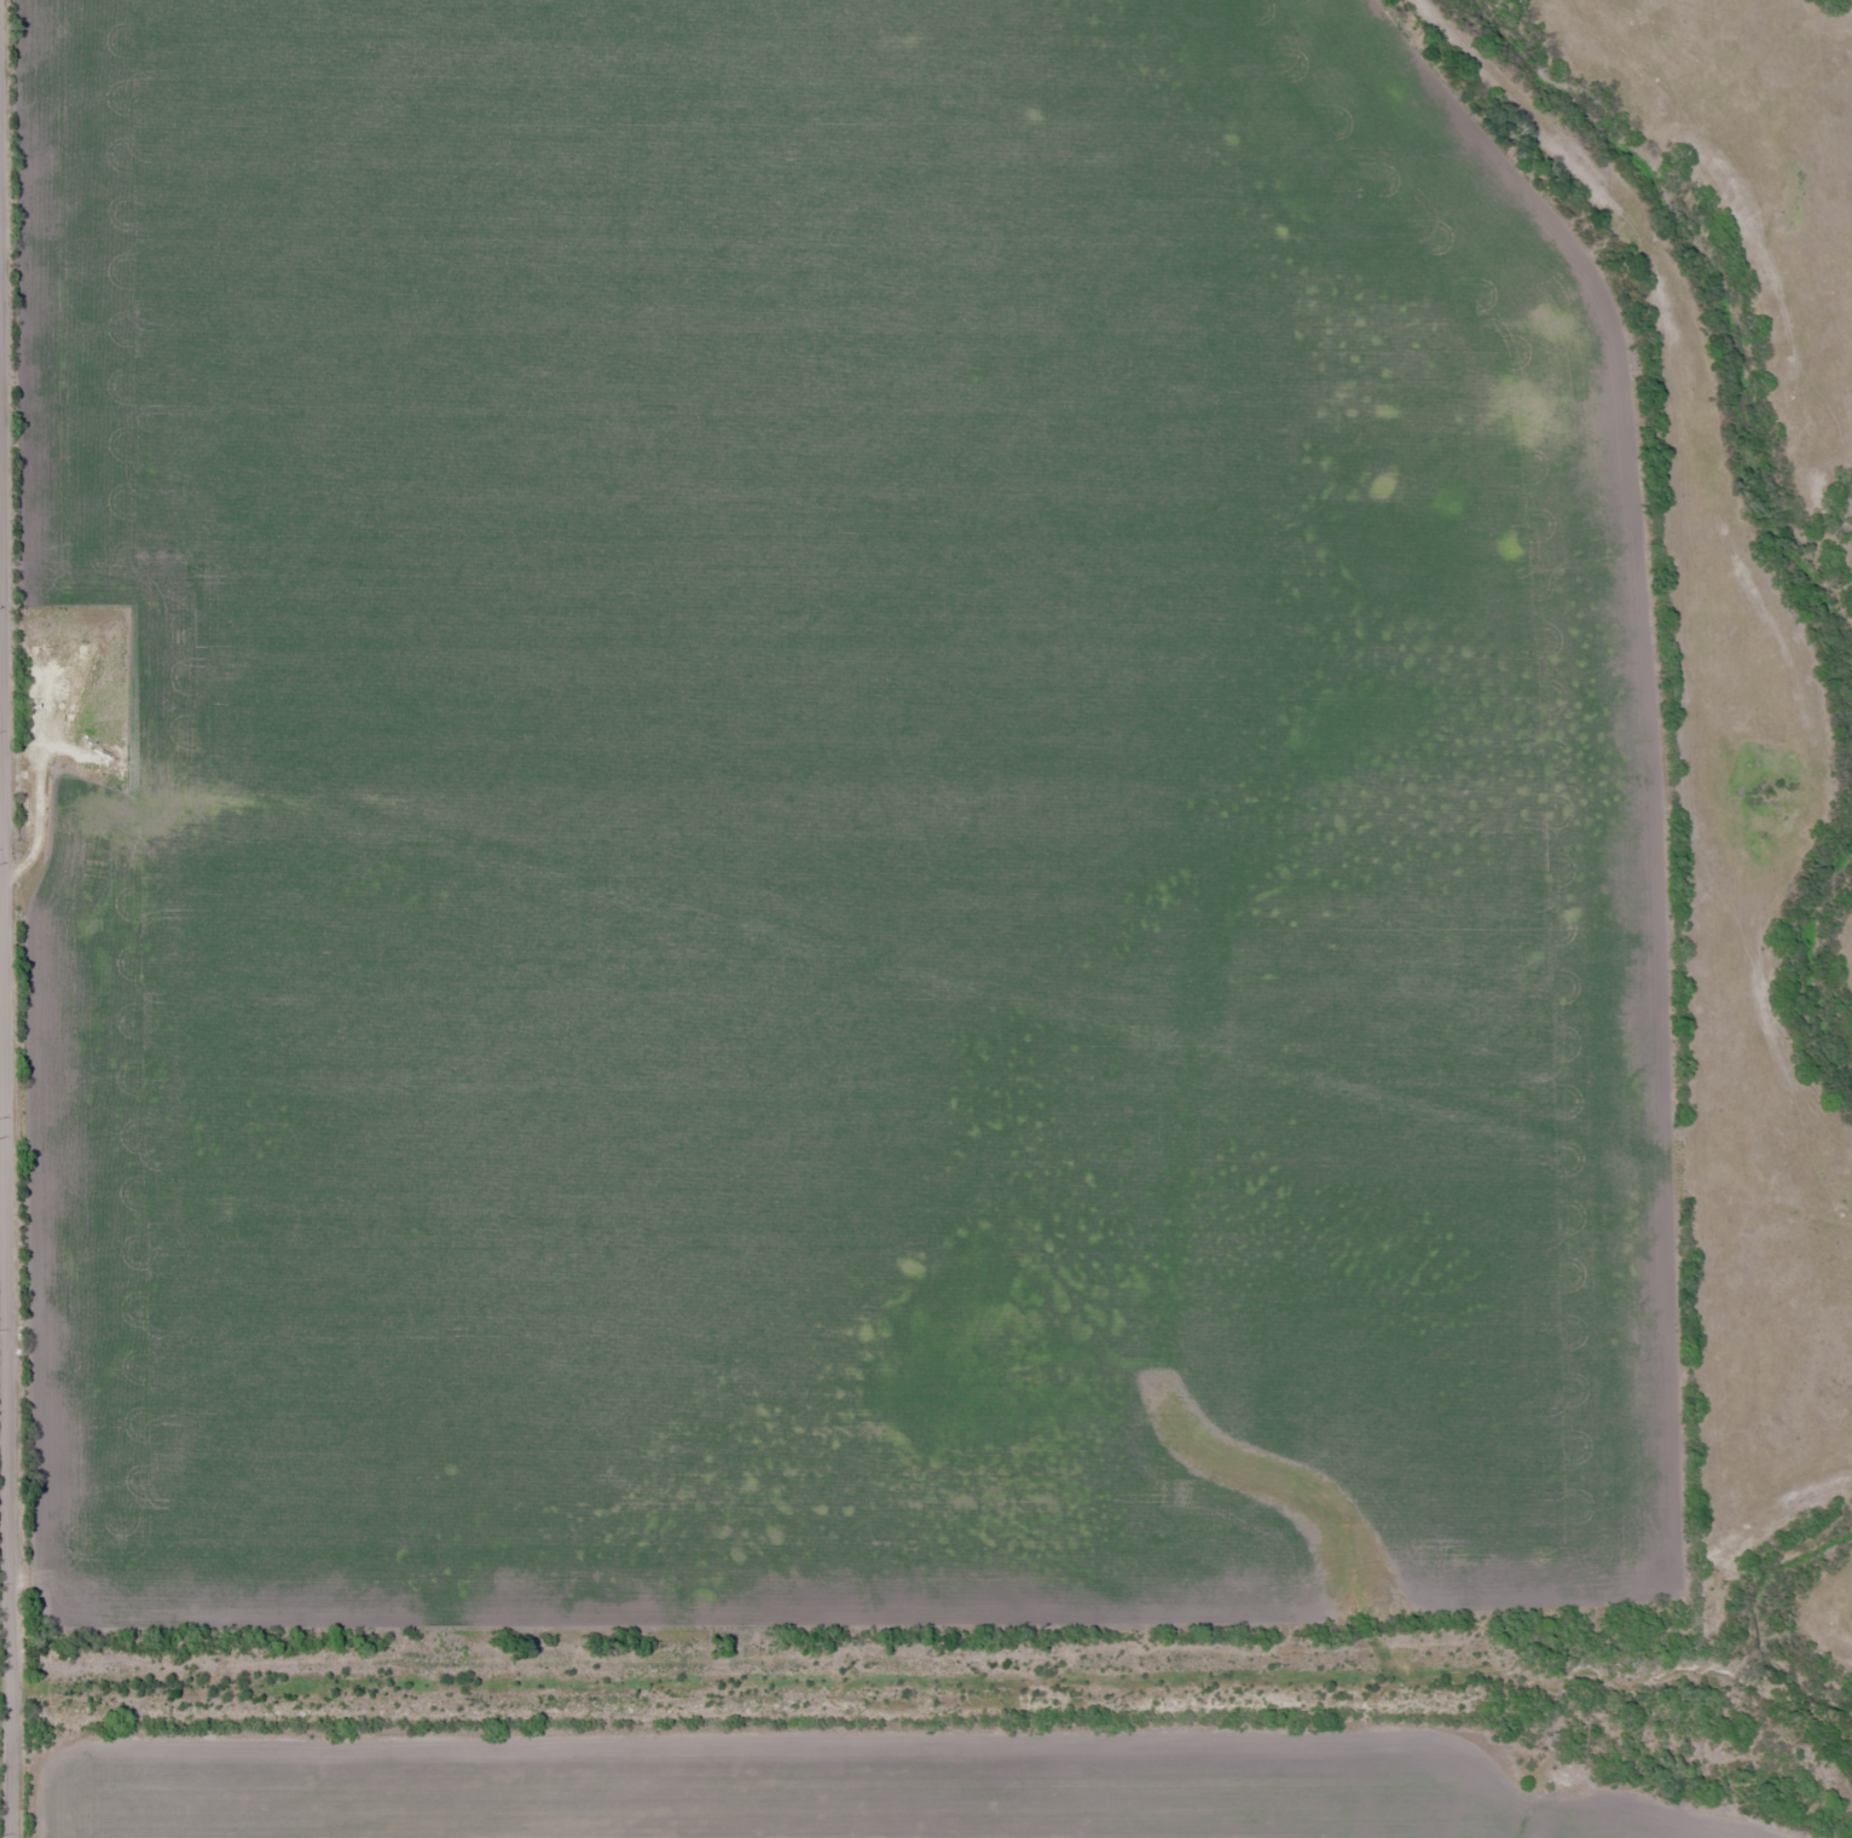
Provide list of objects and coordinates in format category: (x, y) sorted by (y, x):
road: (4, 1282)
airport: (0, 1674)

